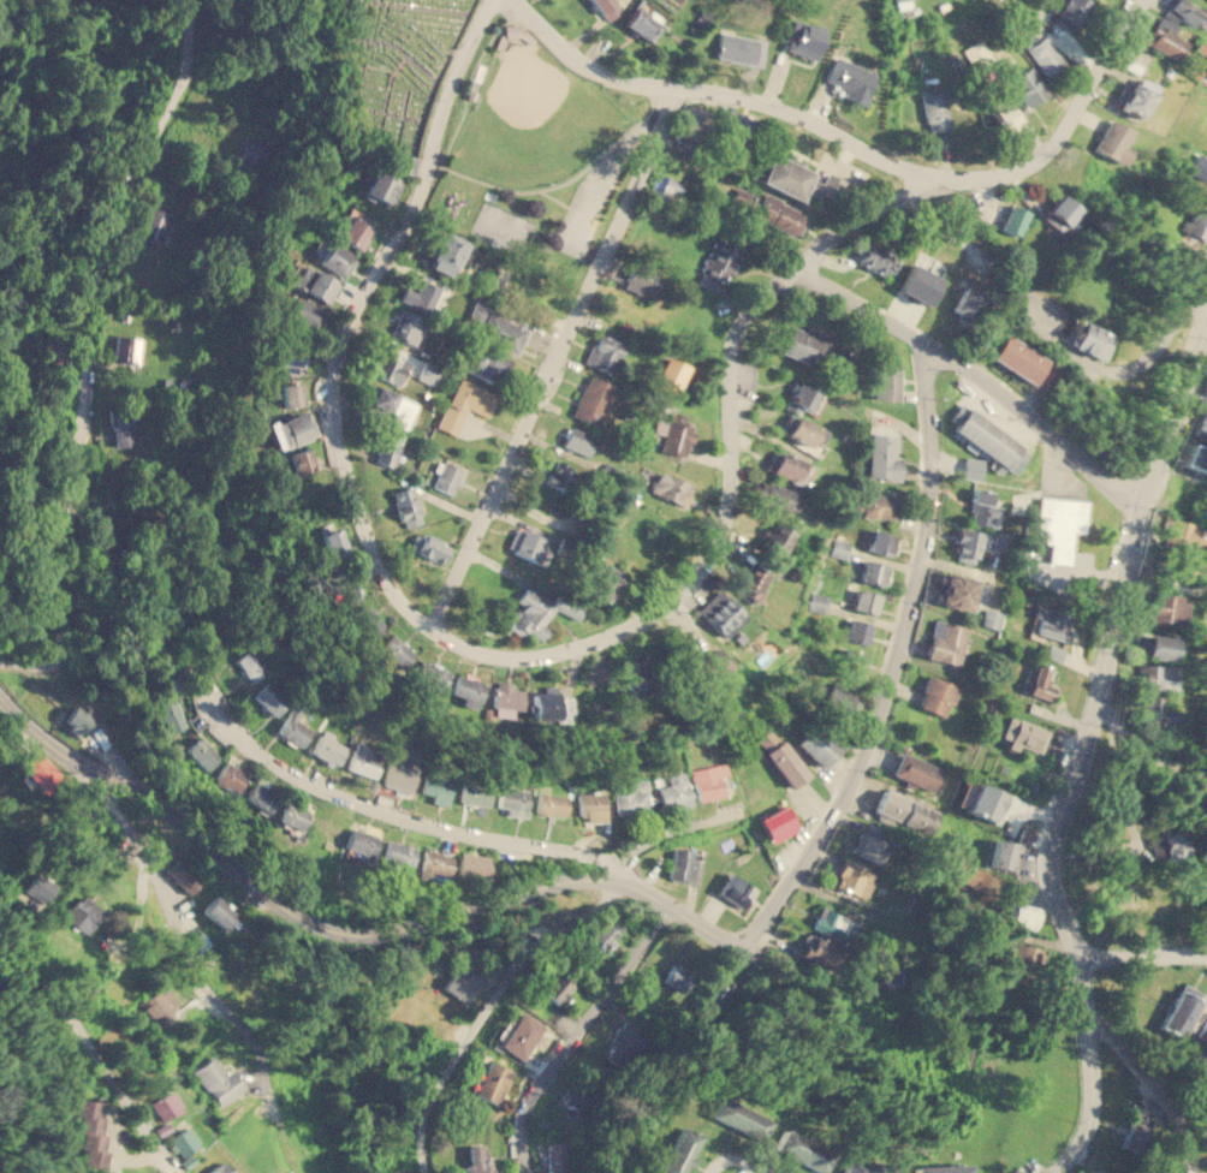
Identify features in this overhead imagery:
building: (898, 1)
building: (606, 7)
building: (1182, 10)
building: (1068, 13)
building: (643, 19)
building: (1164, 37)
building: (803, 38)
building: (736, 47)
building: (760, 52)
building: (1044, 54)
building: (977, 55)
building: (1206, 69)
park: (394, 70)
building: (851, 78)
building: (1027, 85)
road: (727, 96)
building: (1136, 96)
building: (934, 106)
building: (1003, 114)
park: (533, 119)
road: (1070, 119)
building: (690, 127)
building: (1112, 141)
building: (251, 154)
park: (534, 155)
building: (797, 179)
road: (566, 180)
building: (381, 184)
building: (664, 186)
road: (593, 193)
road: (563, 201)
building: (1058, 212)
building: (778, 213)
building: (1197, 216)
building: (1012, 219)
building: (153, 225)
park: (501, 226)
building: (356, 228)
building: (446, 252)
building: (869, 256)
building: (338, 258)
building: (718, 262)
building: (641, 278)
building: (918, 281)
building: (320, 285)
building: (421, 294)
building: (964, 302)
building: (302, 312)
building: (406, 326)
building: (497, 326)
building: (1088, 338)
building: (809, 345)
road: (88, 346)
building: (127, 349)
building: (54, 350)
building: (606, 352)
building: (291, 355)
building: (1017, 357)
road: (555, 361)
road: (1143, 361)
building: (489, 364)
building: (390, 367)
building: (427, 374)
building: (670, 375)
road: (973, 379)
building: (885, 383)
building: (290, 394)
building: (803, 398)
building: (591, 399)
building: (392, 404)
building: (464, 404)
building: (1201, 424)
building: (121, 427)
building: (798, 429)
building: (287, 430)
building: (983, 436)
building: (676, 437)
building: (578, 440)
building: (388, 446)
building: (882, 457)
building: (1195, 457)
building: (301, 460)
building: (783, 465)
building: (971, 468)
building: (560, 474)
building: (442, 475)
building: (668, 487)
building: (772, 494)
building: (792, 504)
building: (880, 505)
building: (405, 506)
building: (983, 508)
building: (1059, 523)
building: (1183, 536)
building: (777, 540)
building: (878, 540)
building: (333, 542)
building: (524, 542)
building: (967, 542)
building: (429, 546)
building: (839, 547)
building: (874, 572)
building: (602, 579)
building: (749, 583)
building: (350, 590)
building: (955, 590)
building: (863, 601)
building: (569, 605)
building: (1166, 608)
building: (528, 613)
building: (721, 614)
building: (991, 618)
building: (365, 619)
building: (1050, 621)
building: (856, 630)
building: (696, 641)
building: (945, 642)
building: (1155, 645)
building: (396, 650)
building: (1053, 651)
road: (487, 654)
building: (849, 657)
building: (710, 661)
building: (249, 663)
building: (636, 673)
building: (429, 674)
building: (1155, 677)
building: (1039, 681)
building: (466, 690)
building: (937, 695)
building: (831, 696)
building: (269, 697)
building: (505, 698)
building: (549, 704)
building: (1158, 714)
building: (168, 715)
building: (79, 720)
road: (876, 721)
building: (293, 725)
building: (1019, 733)
building: (815, 745)
building: (326, 748)
building: (201, 752)
road: (1146, 752)
building: (780, 756)
building: (363, 758)
road: (1083, 760)
building: (38, 768)
building: (916, 770)
building: (398, 773)
building: (228, 776)
building: (708, 780)
building: (436, 787)
building: (673, 790)
building: (475, 792)
building: (260, 797)
building: (630, 797)
building: (512, 799)
building: (986, 802)
building: (551, 803)
building: (590, 806)
building: (903, 810)
building: (293, 816)
road: (406, 820)
building: (775, 822)
road: (666, 830)
building: (362, 842)
building: (869, 842)
building: (1175, 845)
building: (399, 852)
building: (1004, 853)
building: (434, 863)
building: (472, 865)
building: (685, 865)
building: (183, 875)
building: (855, 876)
building: (43, 886)
building: (736, 889)
road: (283, 906)
building: (1147, 910)
building: (219, 911)
building: (82, 912)
building: (1018, 915)
building: (834, 923)
road: (179, 930)
building: (599, 939)
building: (1021, 954)
road: (1143, 954)
building: (463, 978)
building: (672, 980)
building: (717, 990)
building: (157, 1002)
road: (577, 1032)
building: (522, 1035)
building: (624, 1042)
road: (88, 1043)
road: (445, 1076)
building: (216, 1079)
building: (490, 1083)
road: (1150, 1086)
building: (577, 1100)
building: (166, 1104)
building: (741, 1118)
building: (89, 1132)
building: (1132, 1136)
building: (183, 1141)
building: (802, 1149)
building: (679, 1150)
building: (477, 1159)
road: (739, 1159)
building: (869, 1167)
building: (943, 1168)
building: (290, 1172)
building: (1106, 1172)
building: (1107, 1172)

